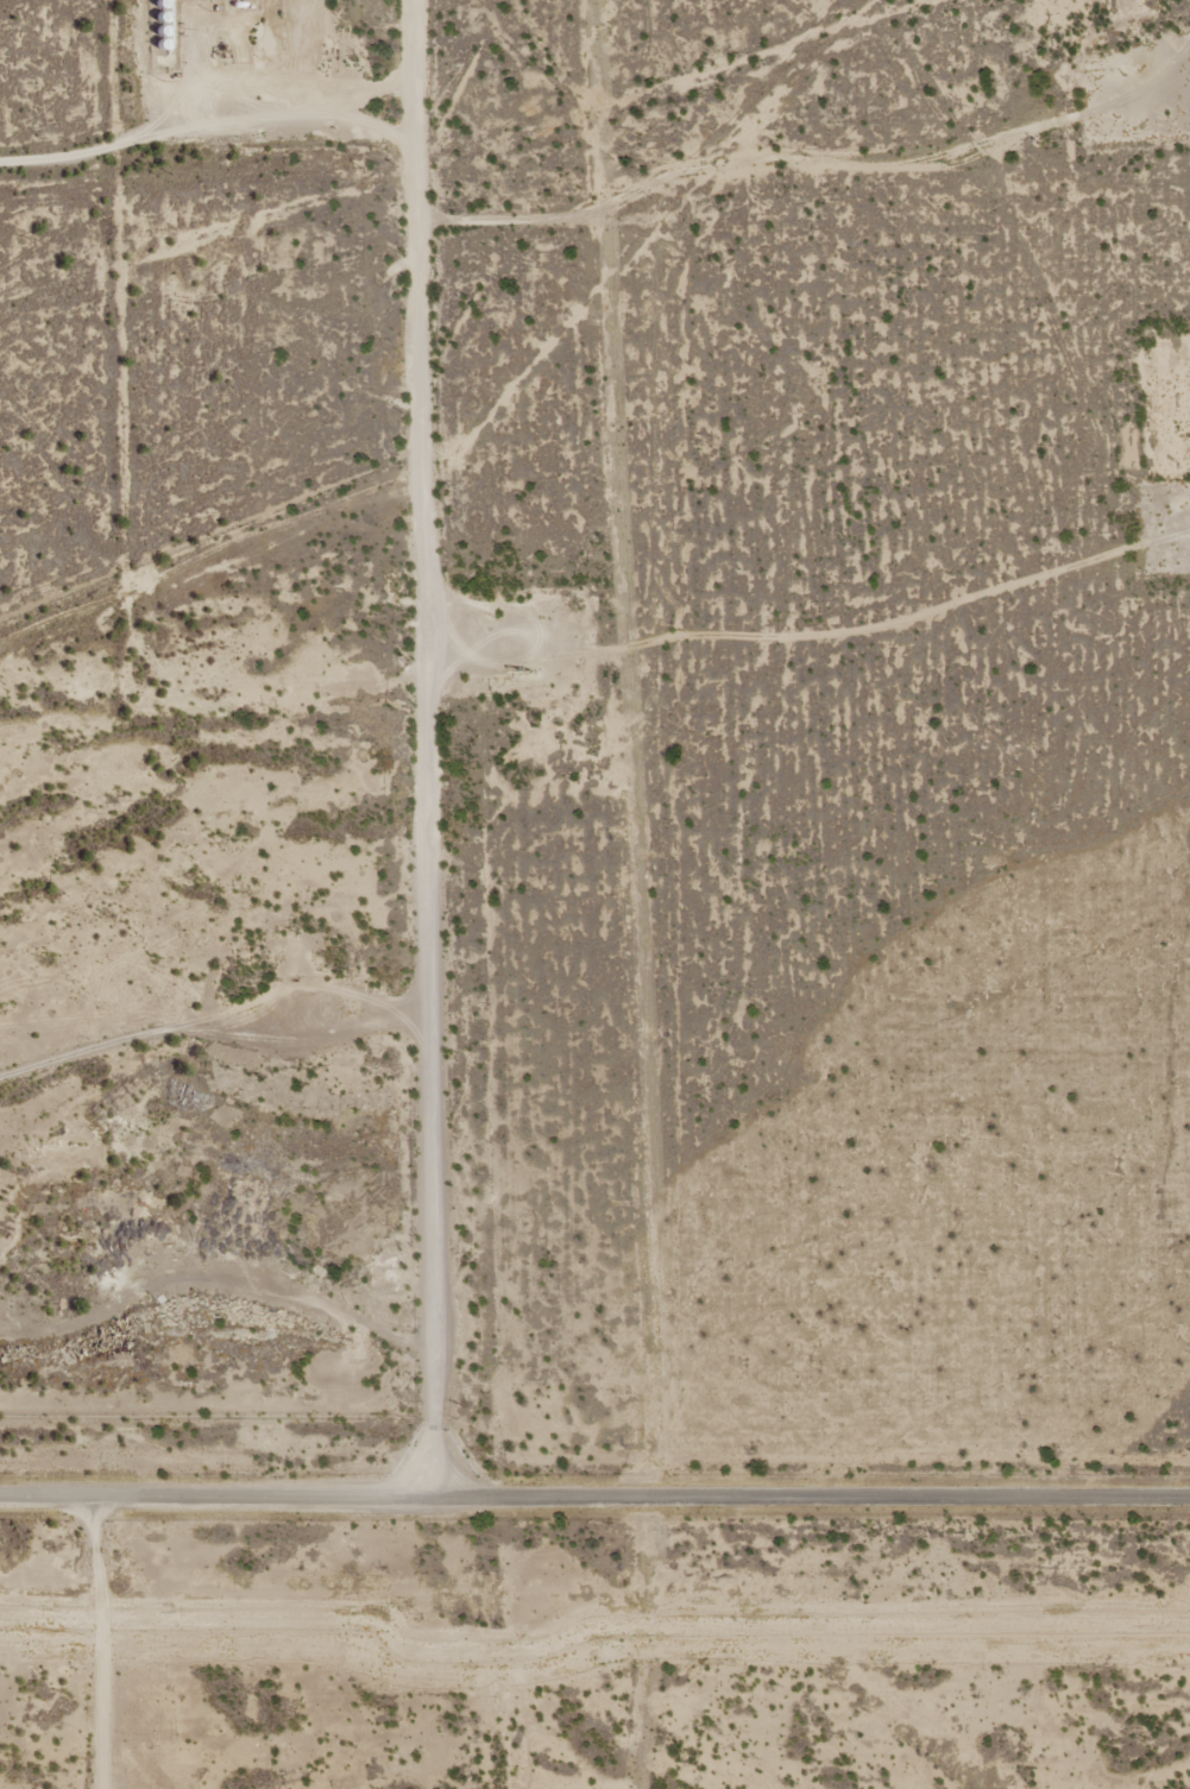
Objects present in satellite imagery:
road: (429, 732)
road: (594, 1464)
road: (100, 1630)

